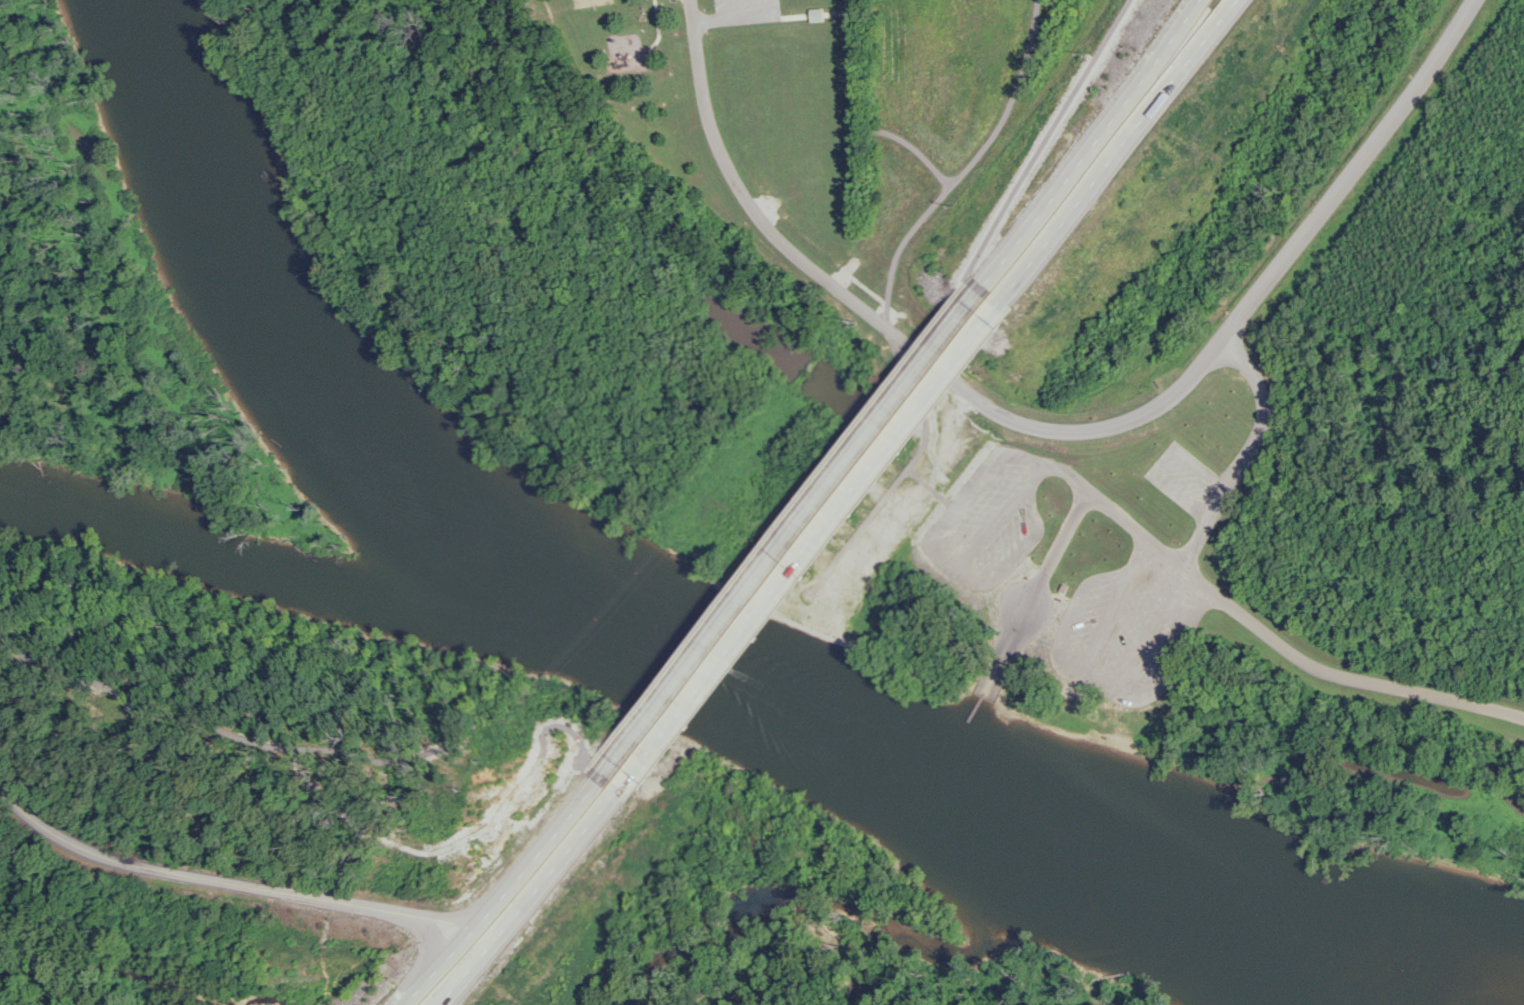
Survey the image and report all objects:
park: (618, 54)
road: (1088, 154)
road: (1115, 160)
road: (1172, 174)
road: (778, 244)
road: (1270, 278)
building: (1153, 338)
road: (1243, 454)
road: (788, 532)
road: (806, 546)
road: (855, 580)
road: (1033, 596)
road: (1267, 639)
river: (691, 656)
road: (507, 883)
road: (241, 886)
road: (533, 890)
road: (597, 905)

